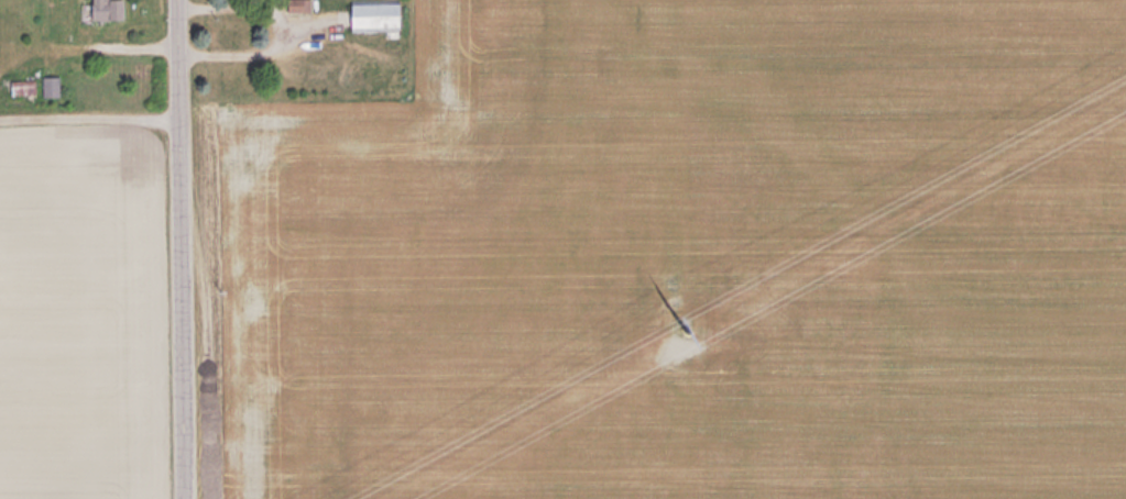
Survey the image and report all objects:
road: (215, 1)
building: (299, 4)
building: (109, 10)
building: (376, 14)
road: (253, 49)
building: (52, 85)
building: (24, 86)
road: (189, 248)
power tower: (696, 329)

